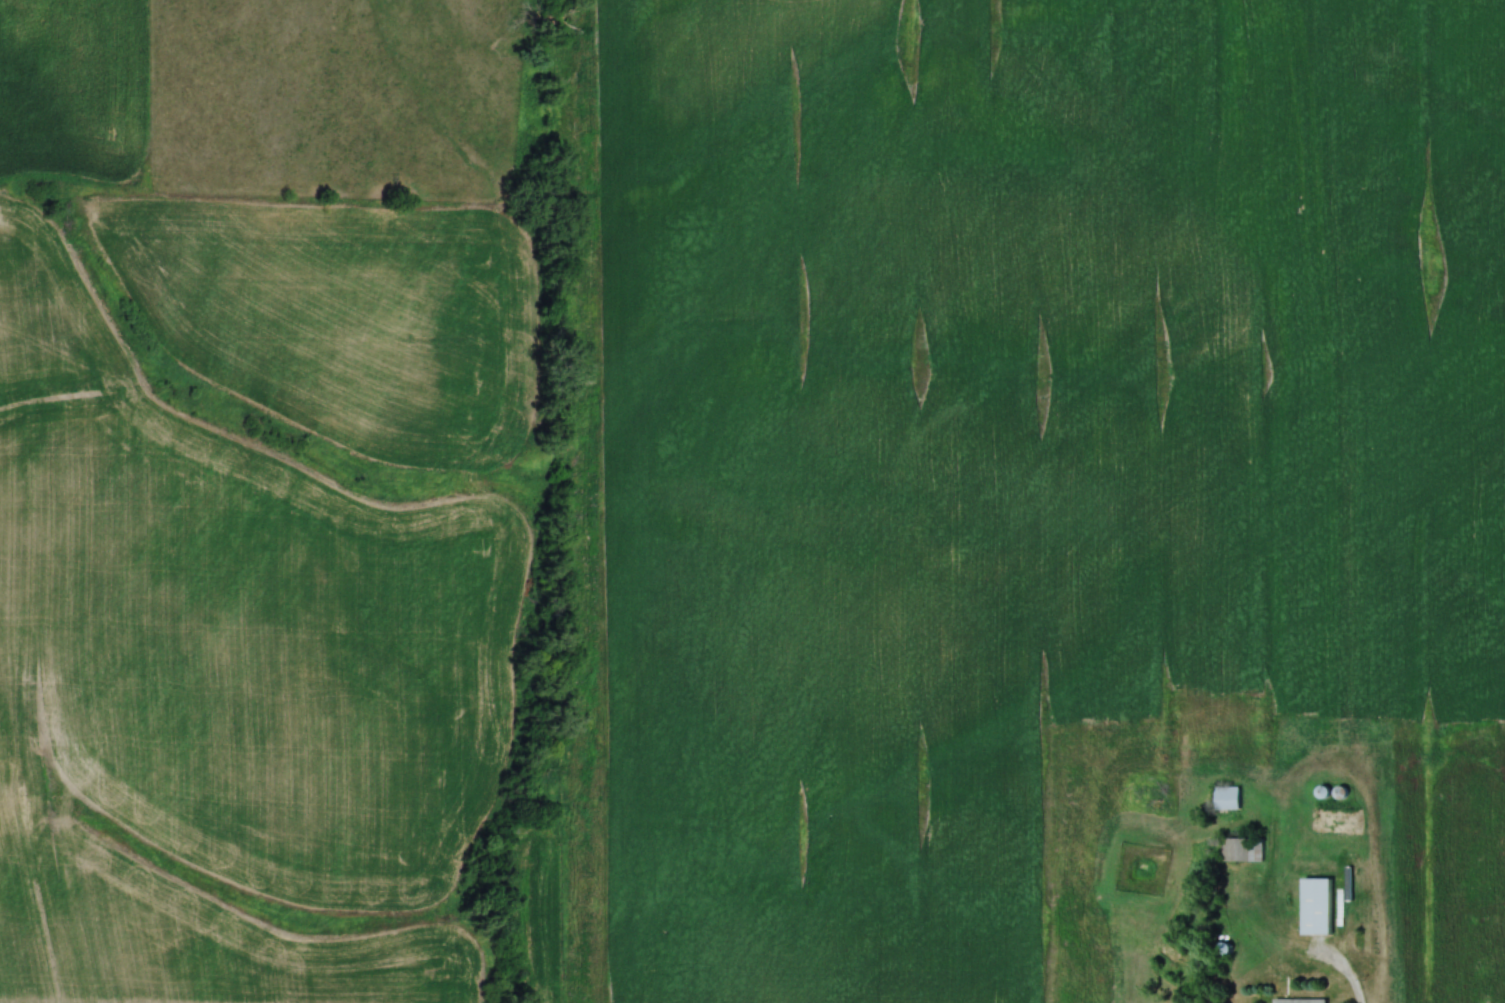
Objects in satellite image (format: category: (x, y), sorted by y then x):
building: (1327, 793)
building: (1344, 793)
building: (1231, 799)
building: (1244, 851)
building: (1321, 908)
road: (1346, 980)

